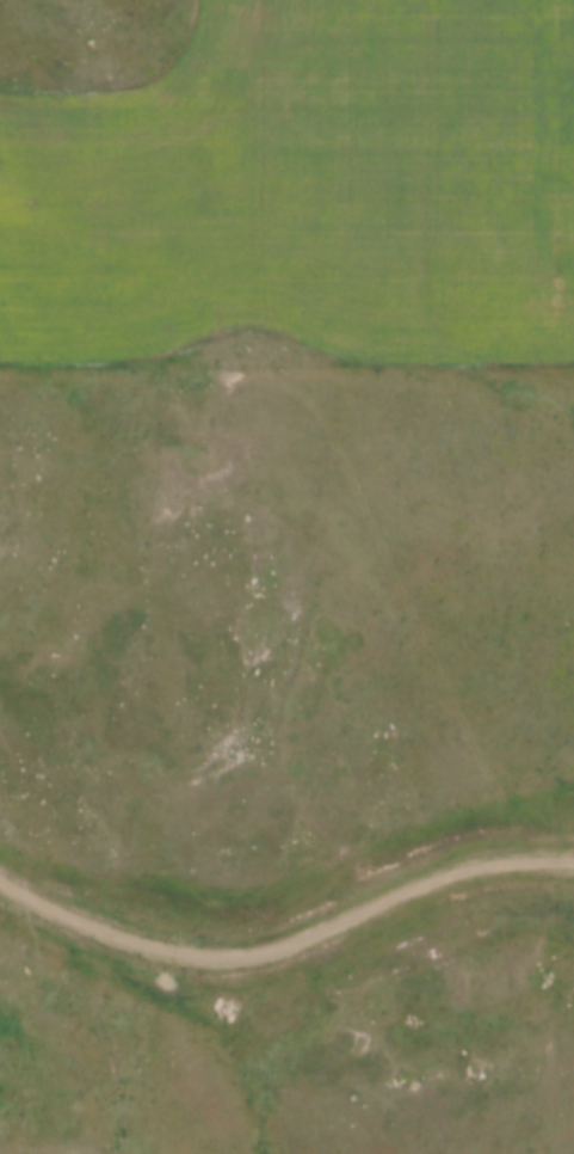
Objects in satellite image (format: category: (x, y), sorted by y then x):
road: (286, 938)

